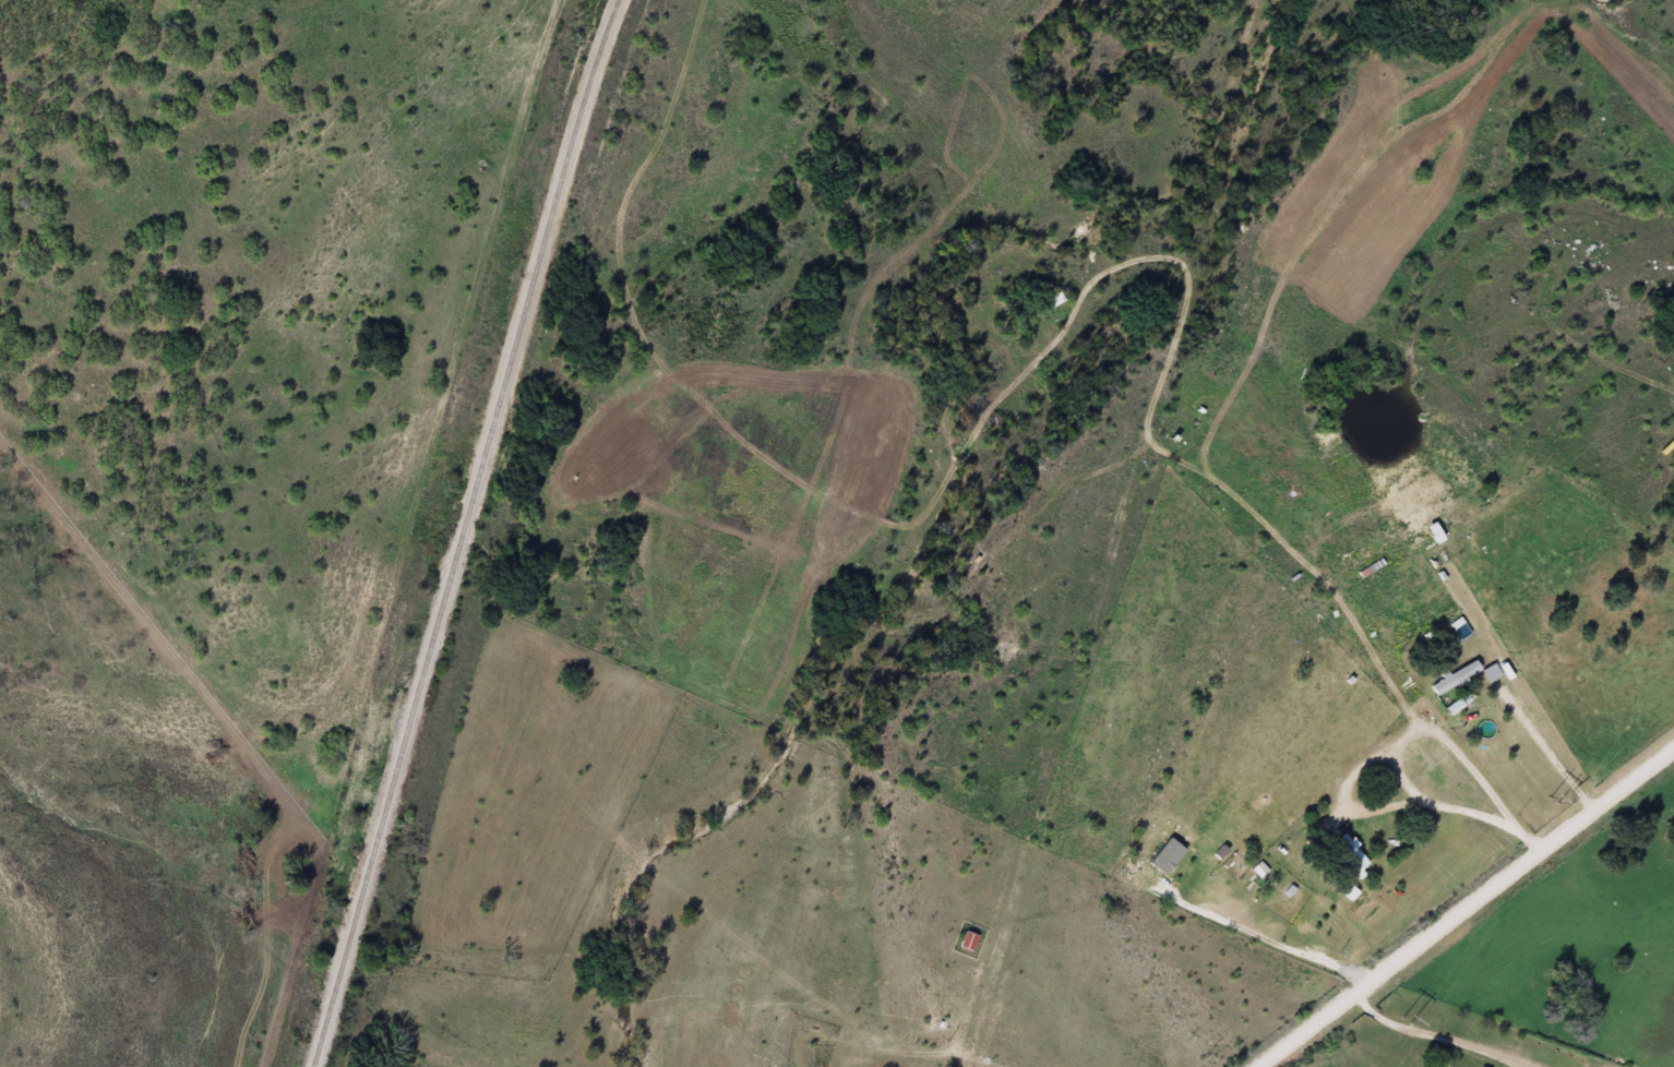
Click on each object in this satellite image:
railway: (458, 531)
road: (1363, 624)
building: (1449, 676)
power tower: (1552, 799)
building: (1343, 853)
road: (1467, 909)
building: (962, 939)
power tower: (1404, 1018)
road: (1431, 1035)

